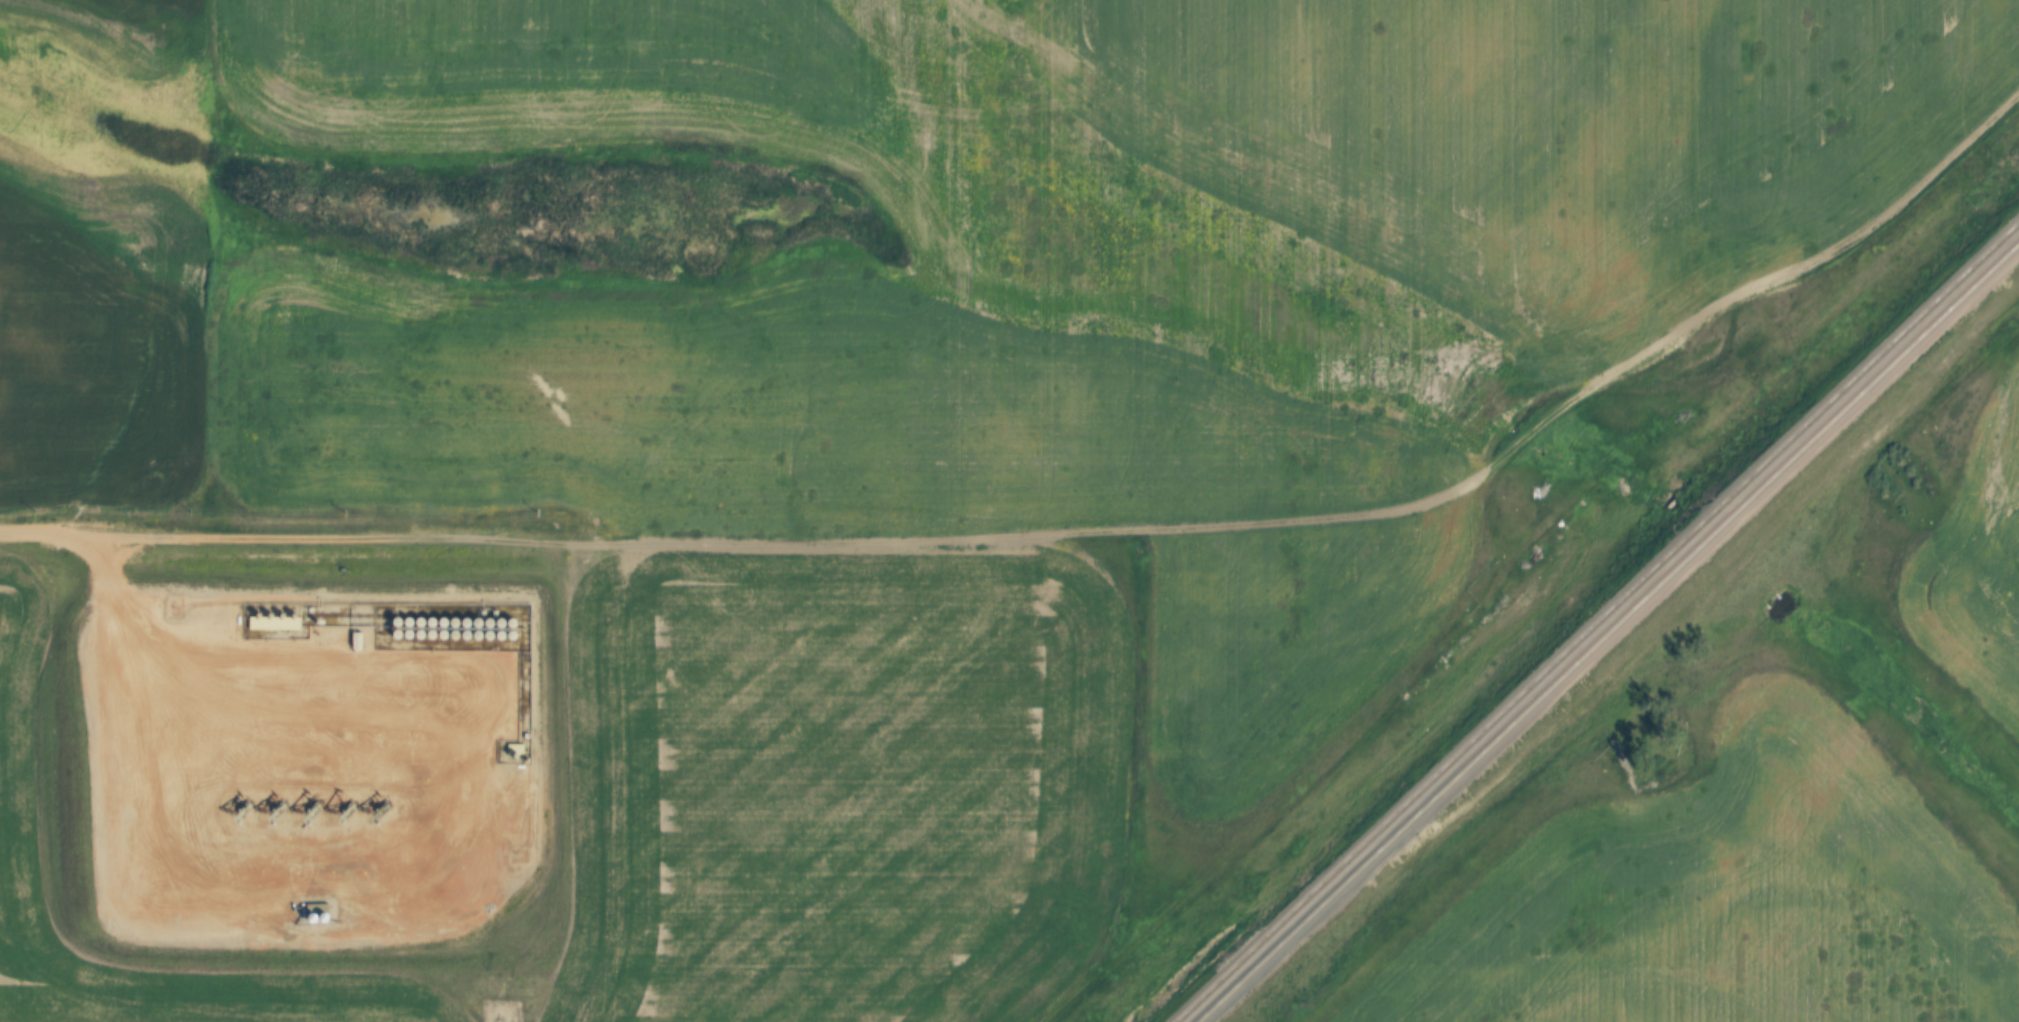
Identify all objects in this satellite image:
road: (1730, 370)
road: (734, 535)
road: (43, 547)
railway: (1599, 626)
railway: (1612, 636)

